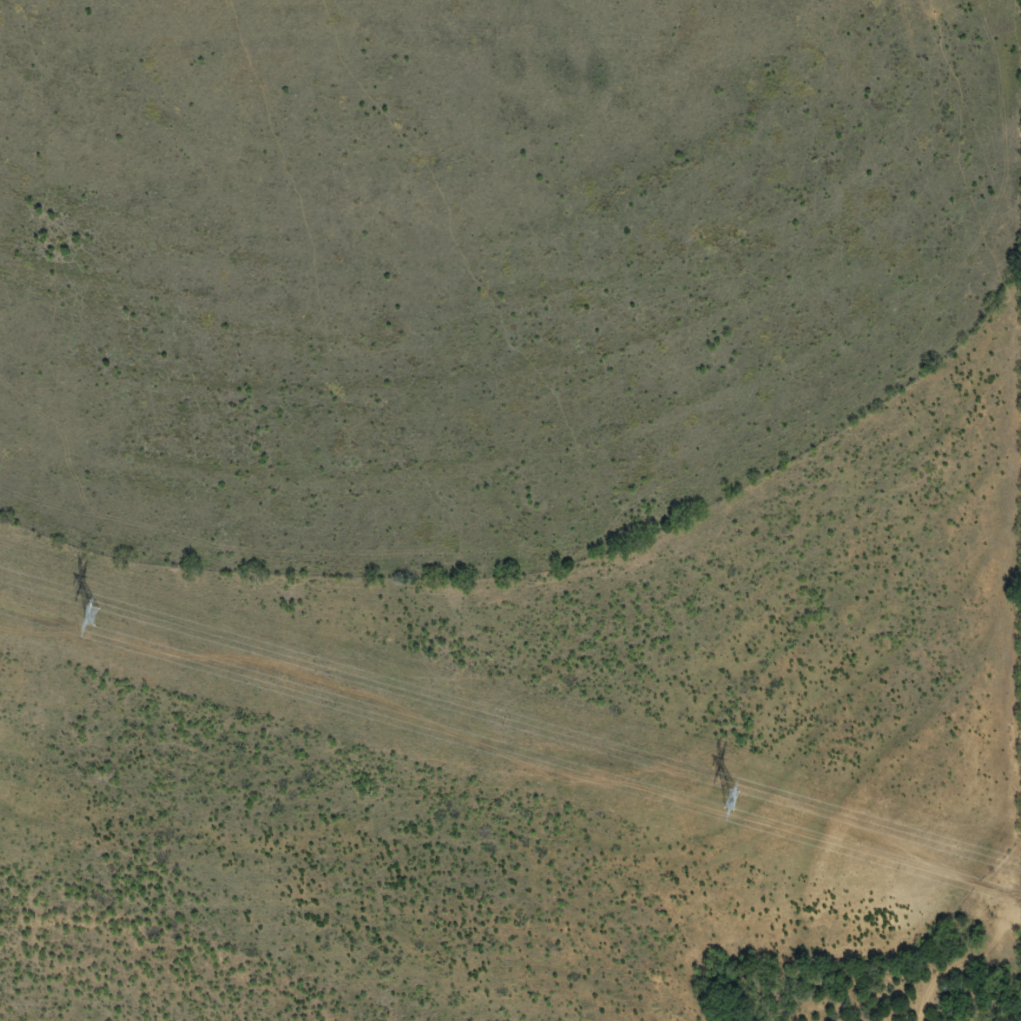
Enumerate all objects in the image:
power tower: (87, 613)
power tower: (727, 798)

